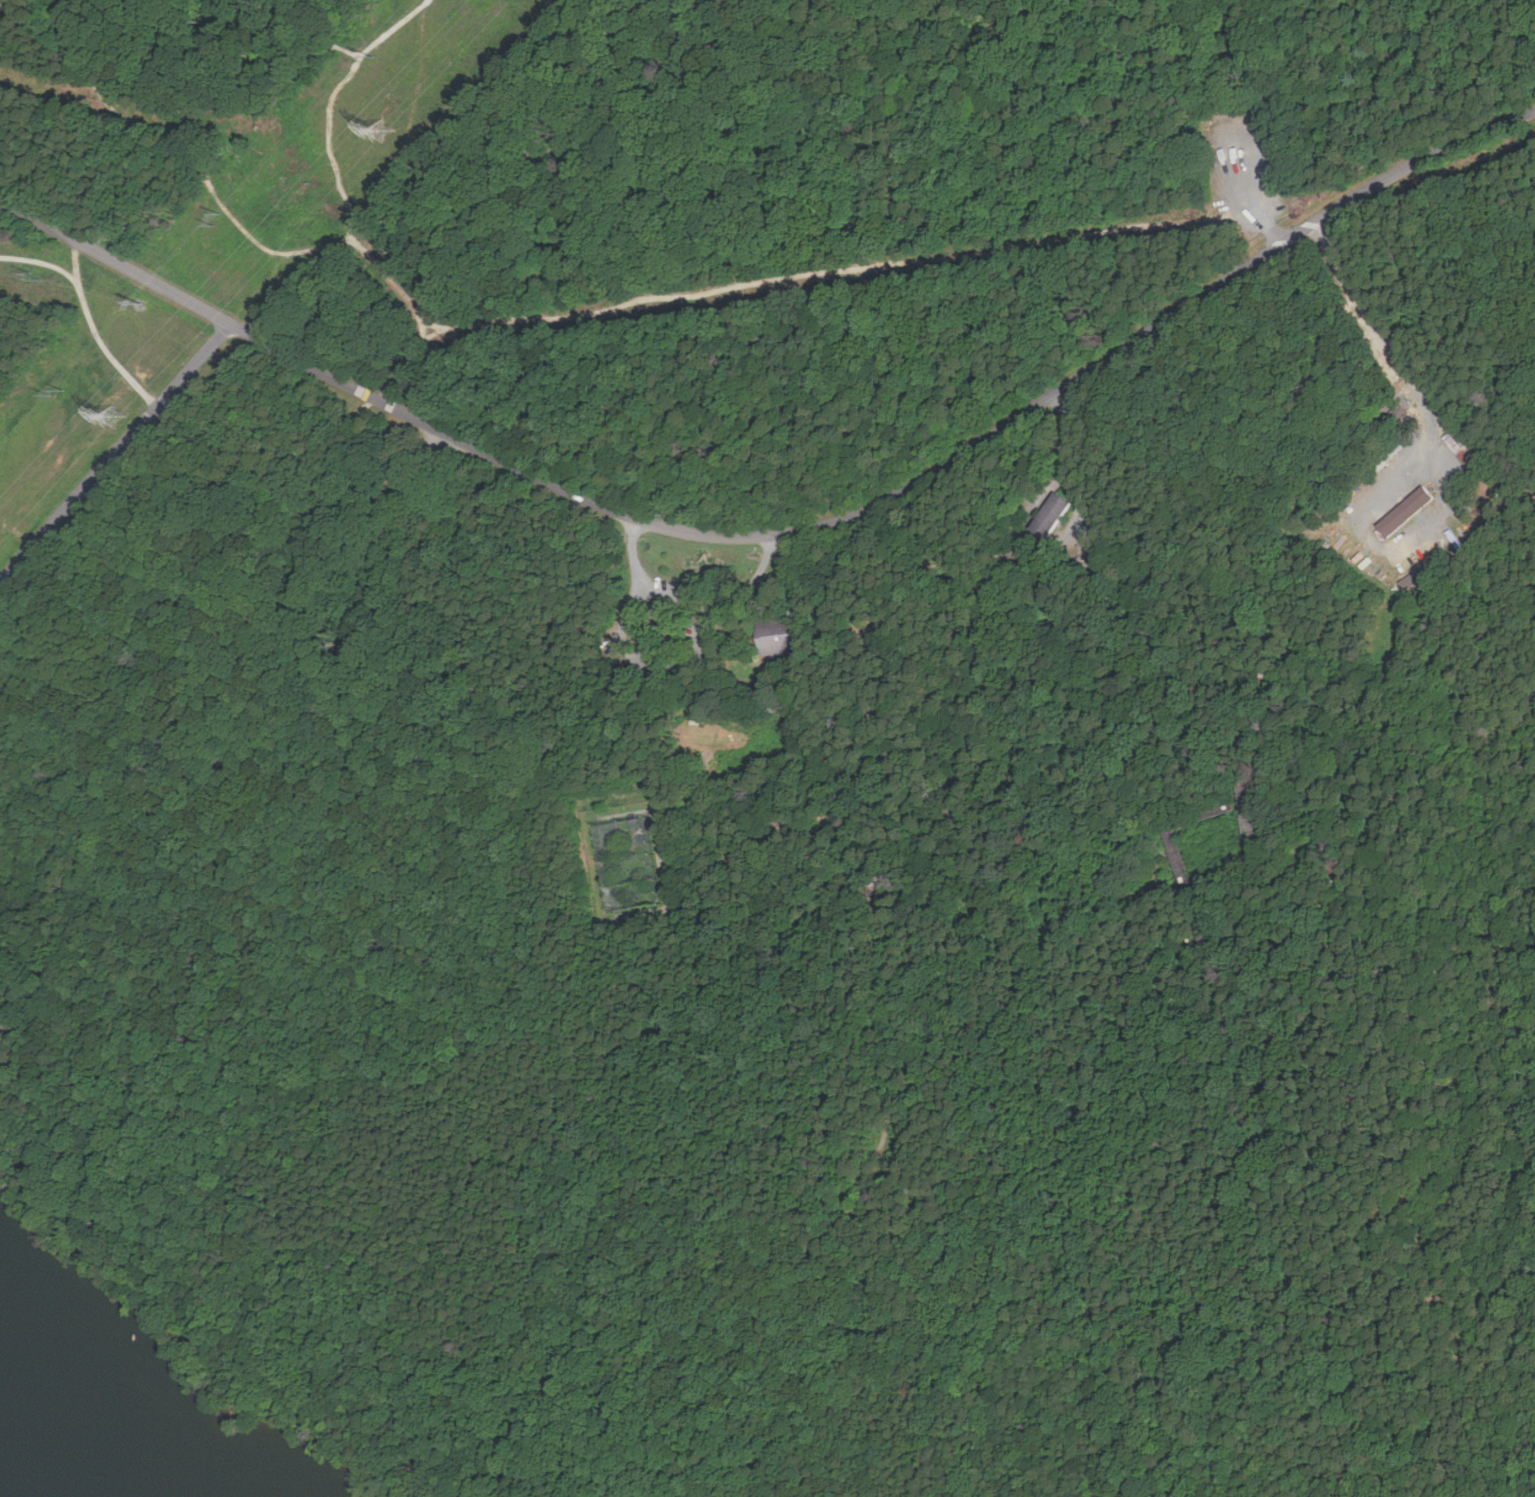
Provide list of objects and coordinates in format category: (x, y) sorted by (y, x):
road: (336, 48)
road: (1253, 51)
road: (1314, 63)
road: (145, 97)
power tower: (386, 128)
road: (327, 147)
road: (1259, 177)
road: (1430, 192)
road: (509, 202)
road: (40, 260)
road: (287, 260)
road: (1054, 305)
road: (1379, 326)
road: (1500, 343)
road: (145, 394)
power tower: (120, 411)
building: (1460, 446)
road: (117, 454)
building: (1411, 510)
building: (1050, 515)
road: (787, 533)
road: (758, 573)
road: (661, 585)
building: (777, 637)
road: (649, 656)
road: (109, 741)
road: (25, 824)
road: (1533, 1083)
road: (1512, 1399)

